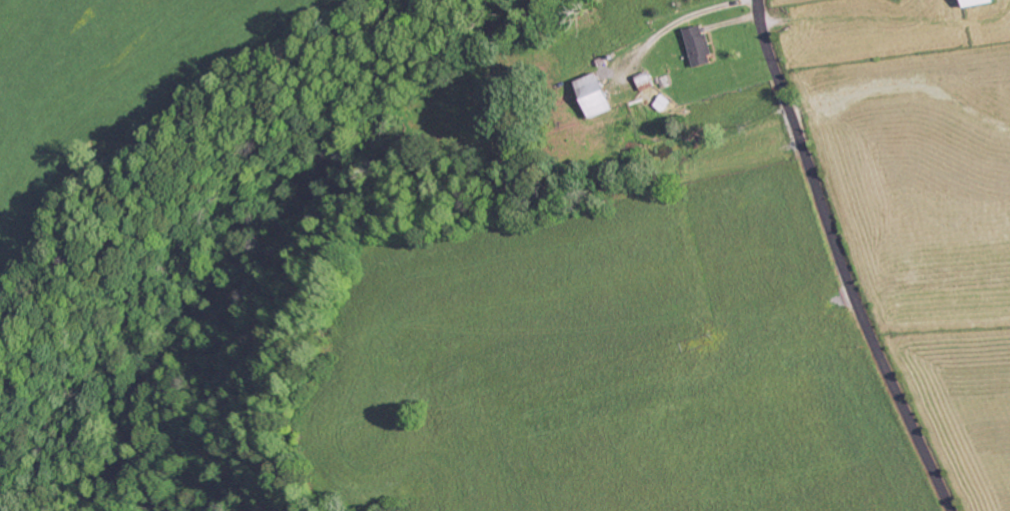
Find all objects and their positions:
building: (980, 3)
building: (701, 47)
building: (598, 96)
road: (840, 260)

